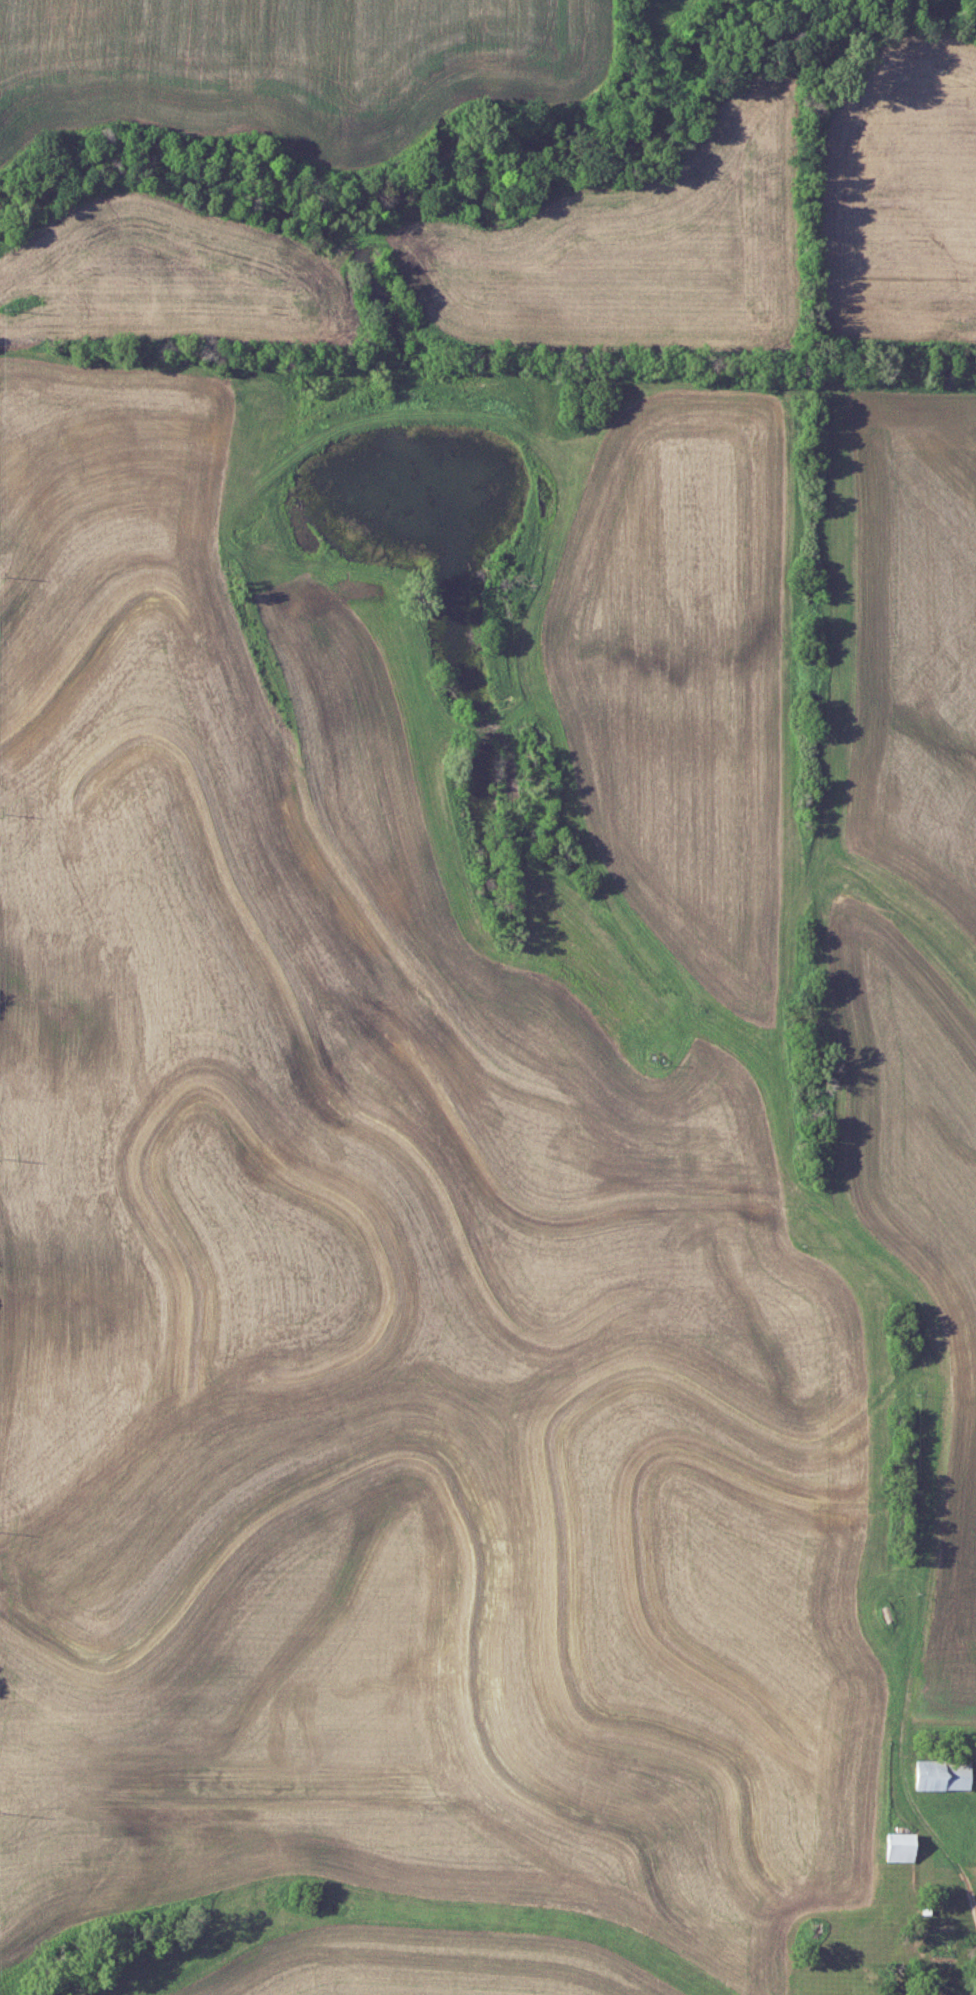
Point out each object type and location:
building: (940, 1774)
building: (898, 1845)

